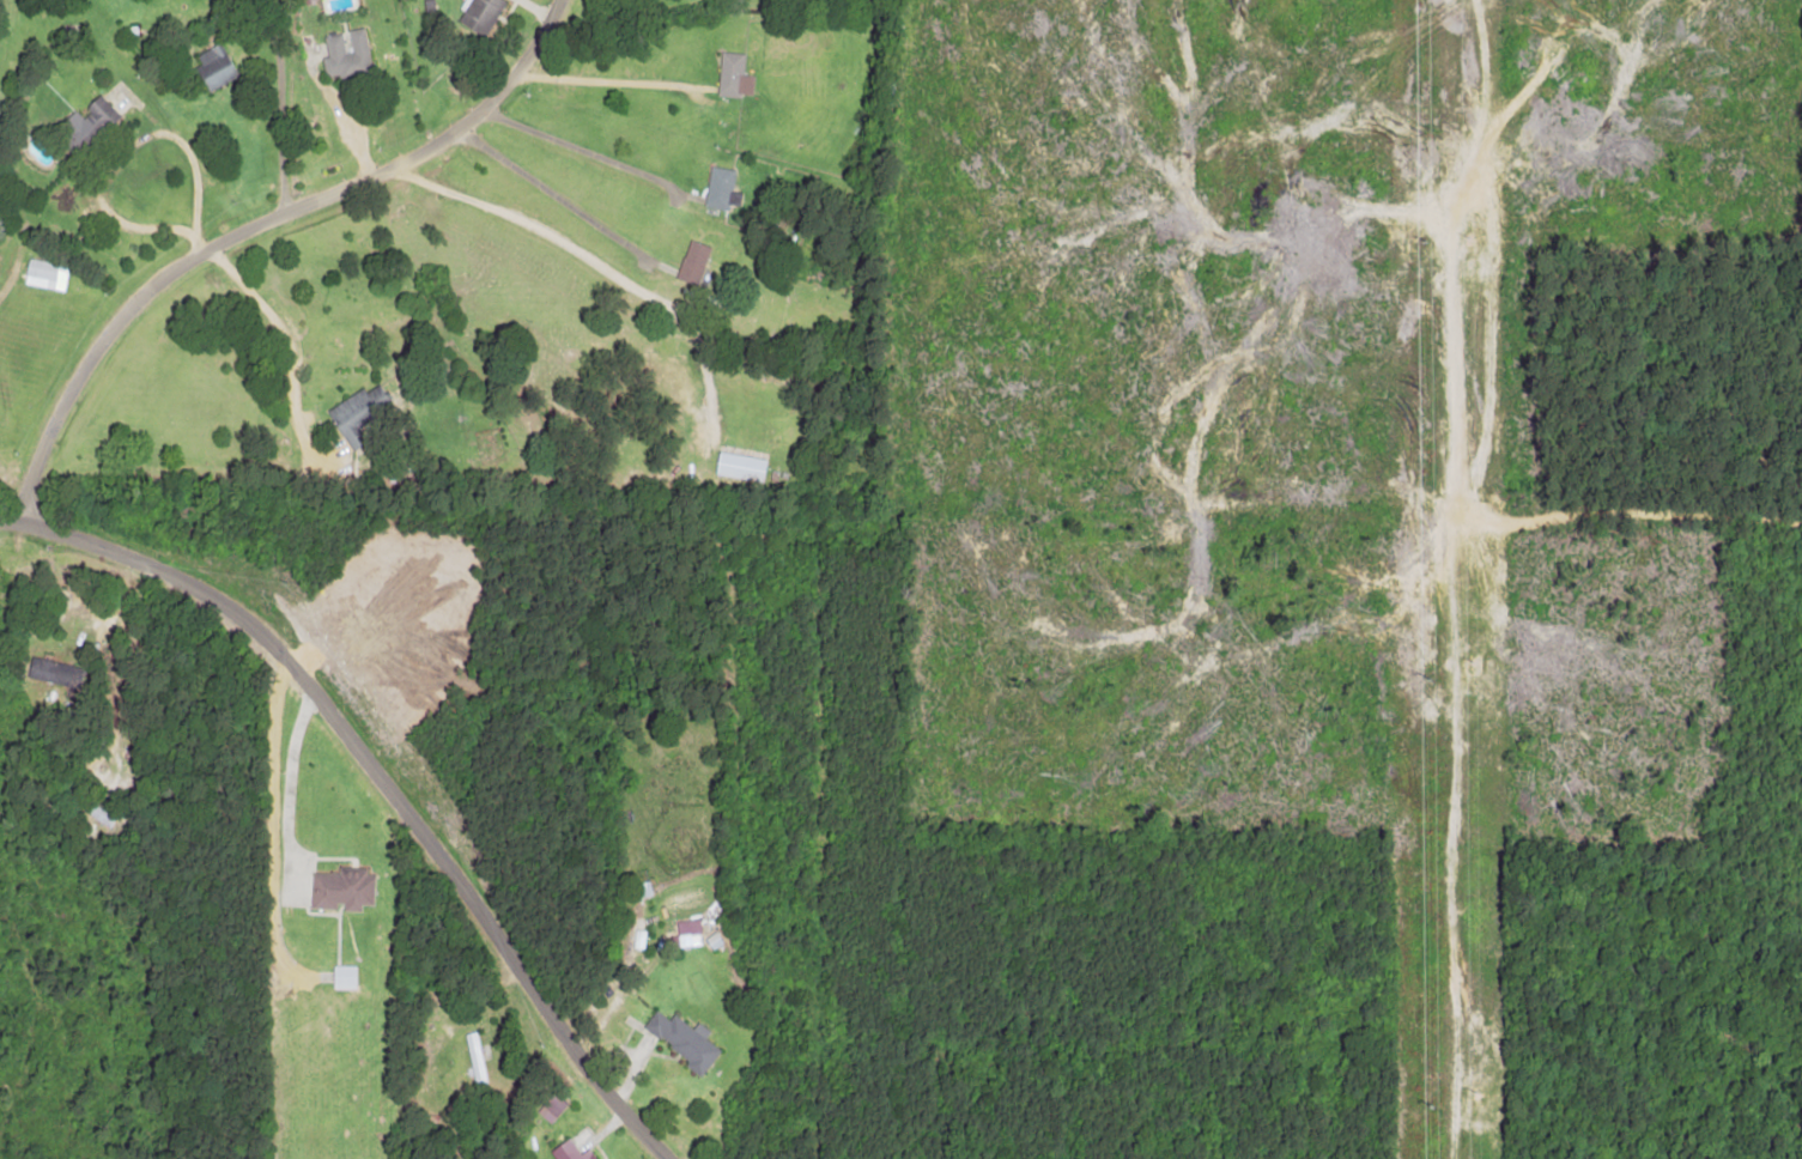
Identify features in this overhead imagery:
building: (302, 0)
building: (480, 14)
building: (346, 54)
building: (212, 67)
building: (733, 75)
building: (87, 119)
building: (721, 188)
road: (250, 227)
building: (692, 261)
building: (44, 274)
building: (357, 413)
building: (739, 466)
road: (1256, 554)
building: (53, 672)
road: (265, 728)
road: (378, 781)
road: (280, 793)
building: (340, 890)
building: (685, 940)
building: (341, 977)
building: (682, 1040)
building: (550, 1108)
building: (570, 1151)

